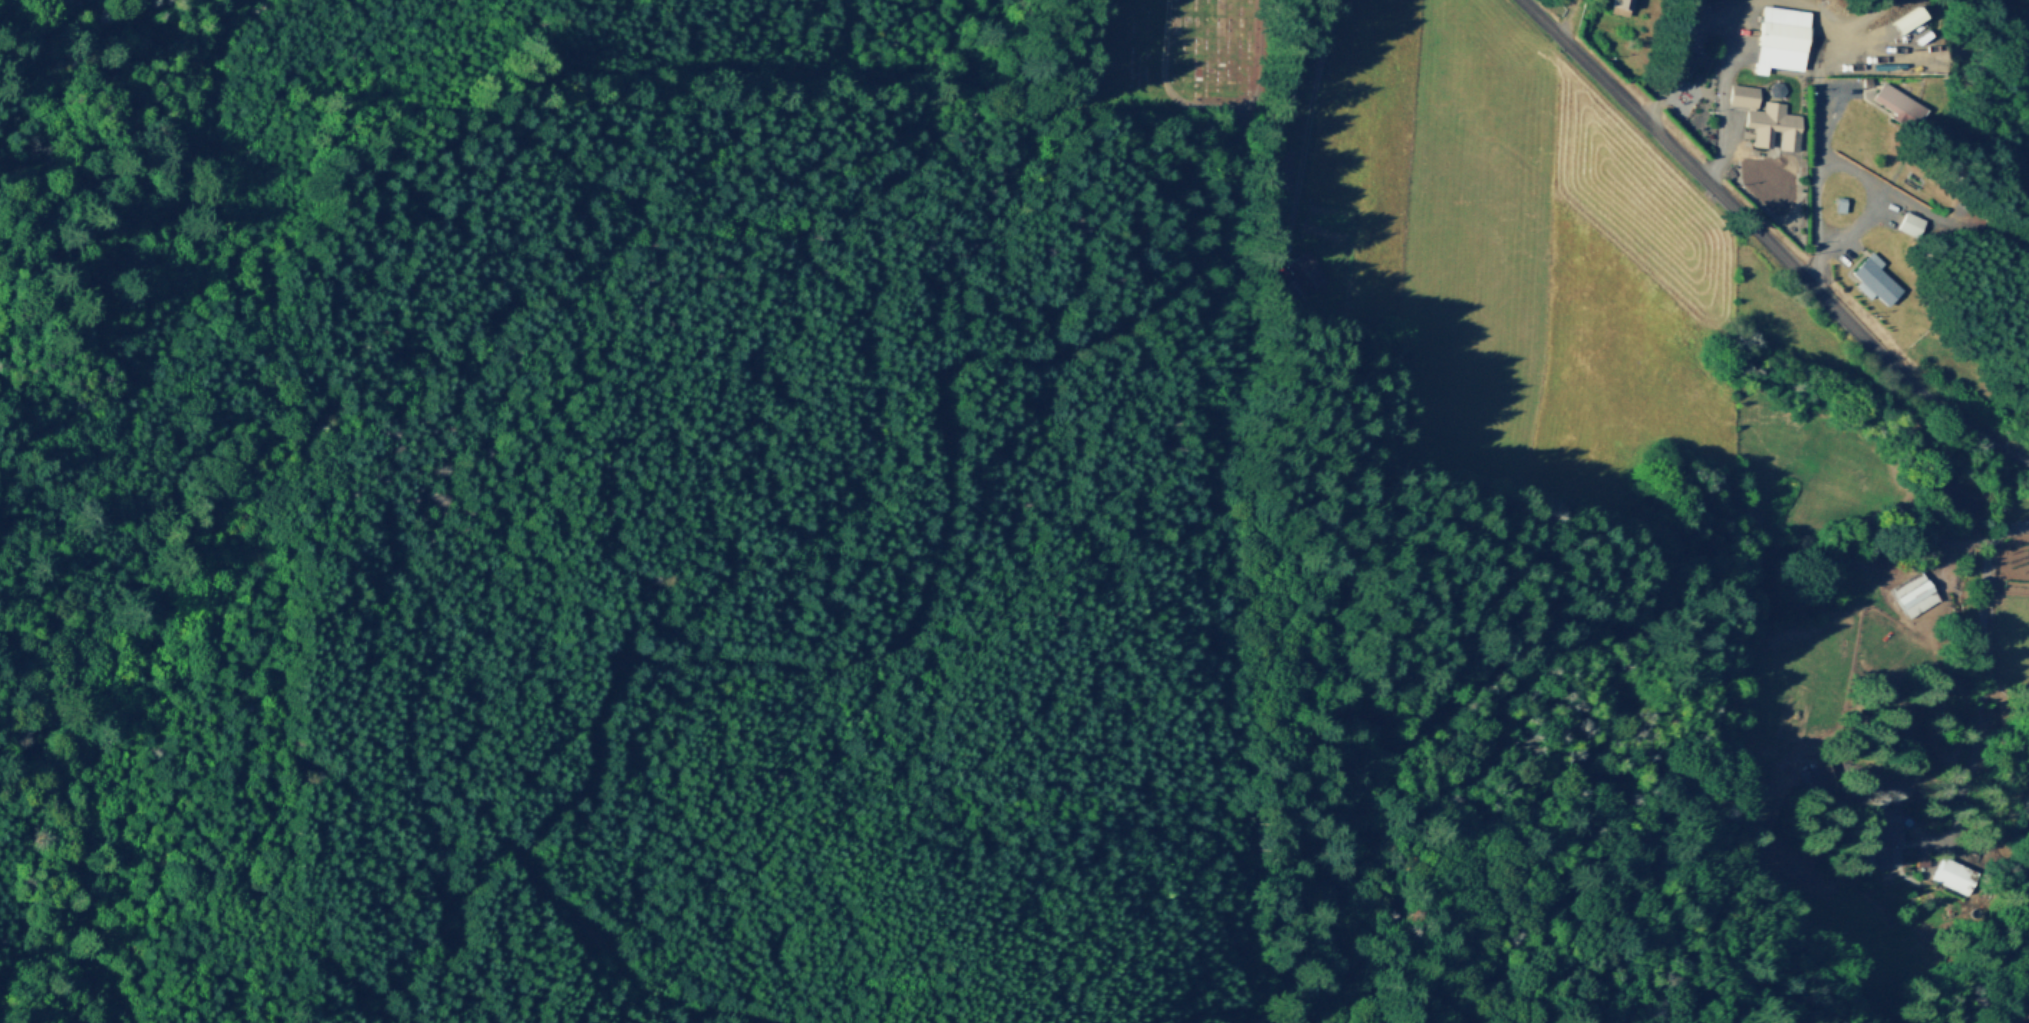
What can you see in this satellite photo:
building: (1617, 6)
road: (1565, 17)
building: (1906, 19)
building: (1778, 35)
road: (1673, 43)
road: (1841, 54)
park: (1161, 56)
building: (1774, 83)
road: (1826, 85)
road: (1165, 88)
building: (1740, 93)
road: (1718, 95)
building: (1894, 98)
building: (1771, 123)
road: (1731, 133)
road: (1814, 138)
road: (1301, 140)
building: (1273, 165)
road: (1870, 199)
building: (1837, 201)
road: (1904, 201)
building: (1907, 222)
road: (1986, 236)
road: (1767, 240)
road: (192, 267)
building: (1298, 272)
building: (1872, 277)
road: (1914, 515)
road: (1959, 542)
building: (1912, 592)
road: (897, 636)
road: (1976, 719)
building: (1808, 780)
road: (1931, 834)
building: (1885, 842)
building: (1951, 872)

